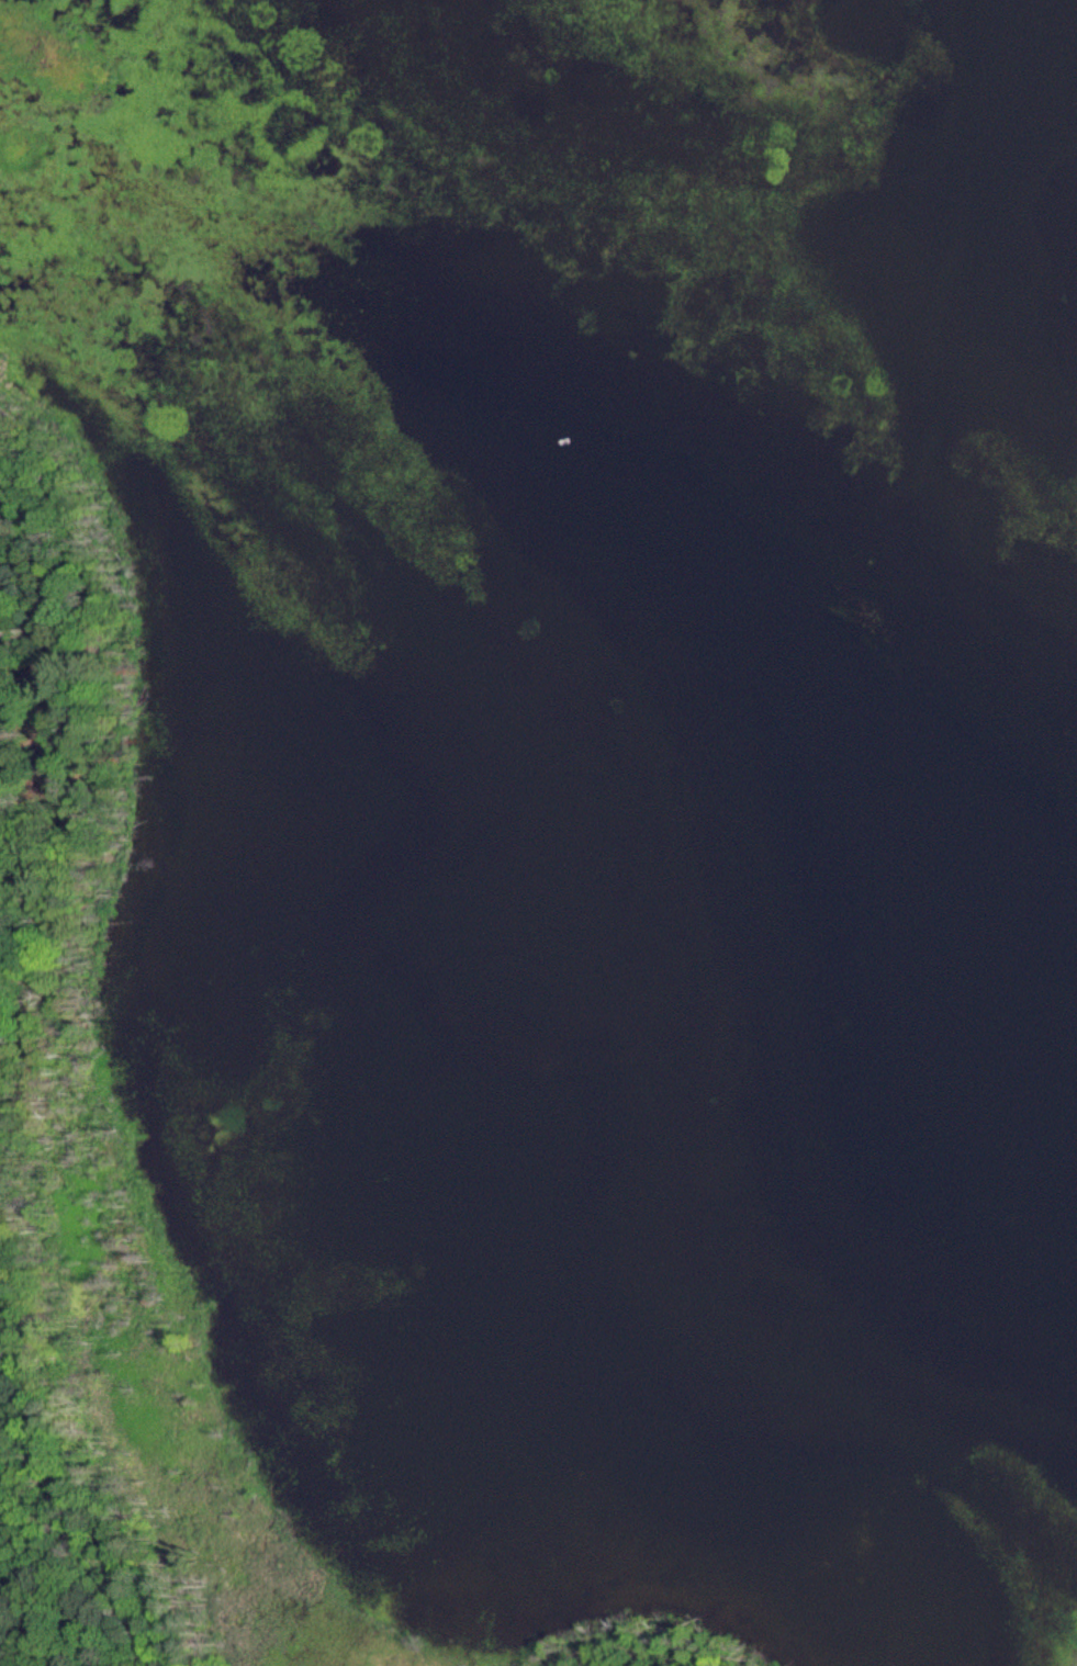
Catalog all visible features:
road: (24, 637)

